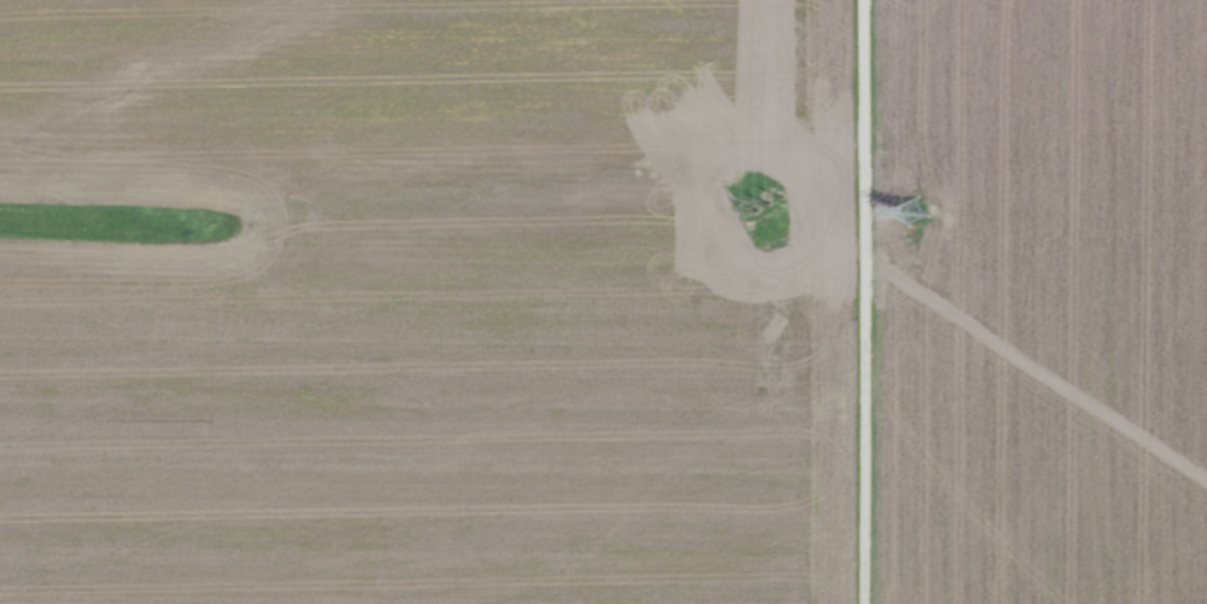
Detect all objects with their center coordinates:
power tower: (916, 205)

